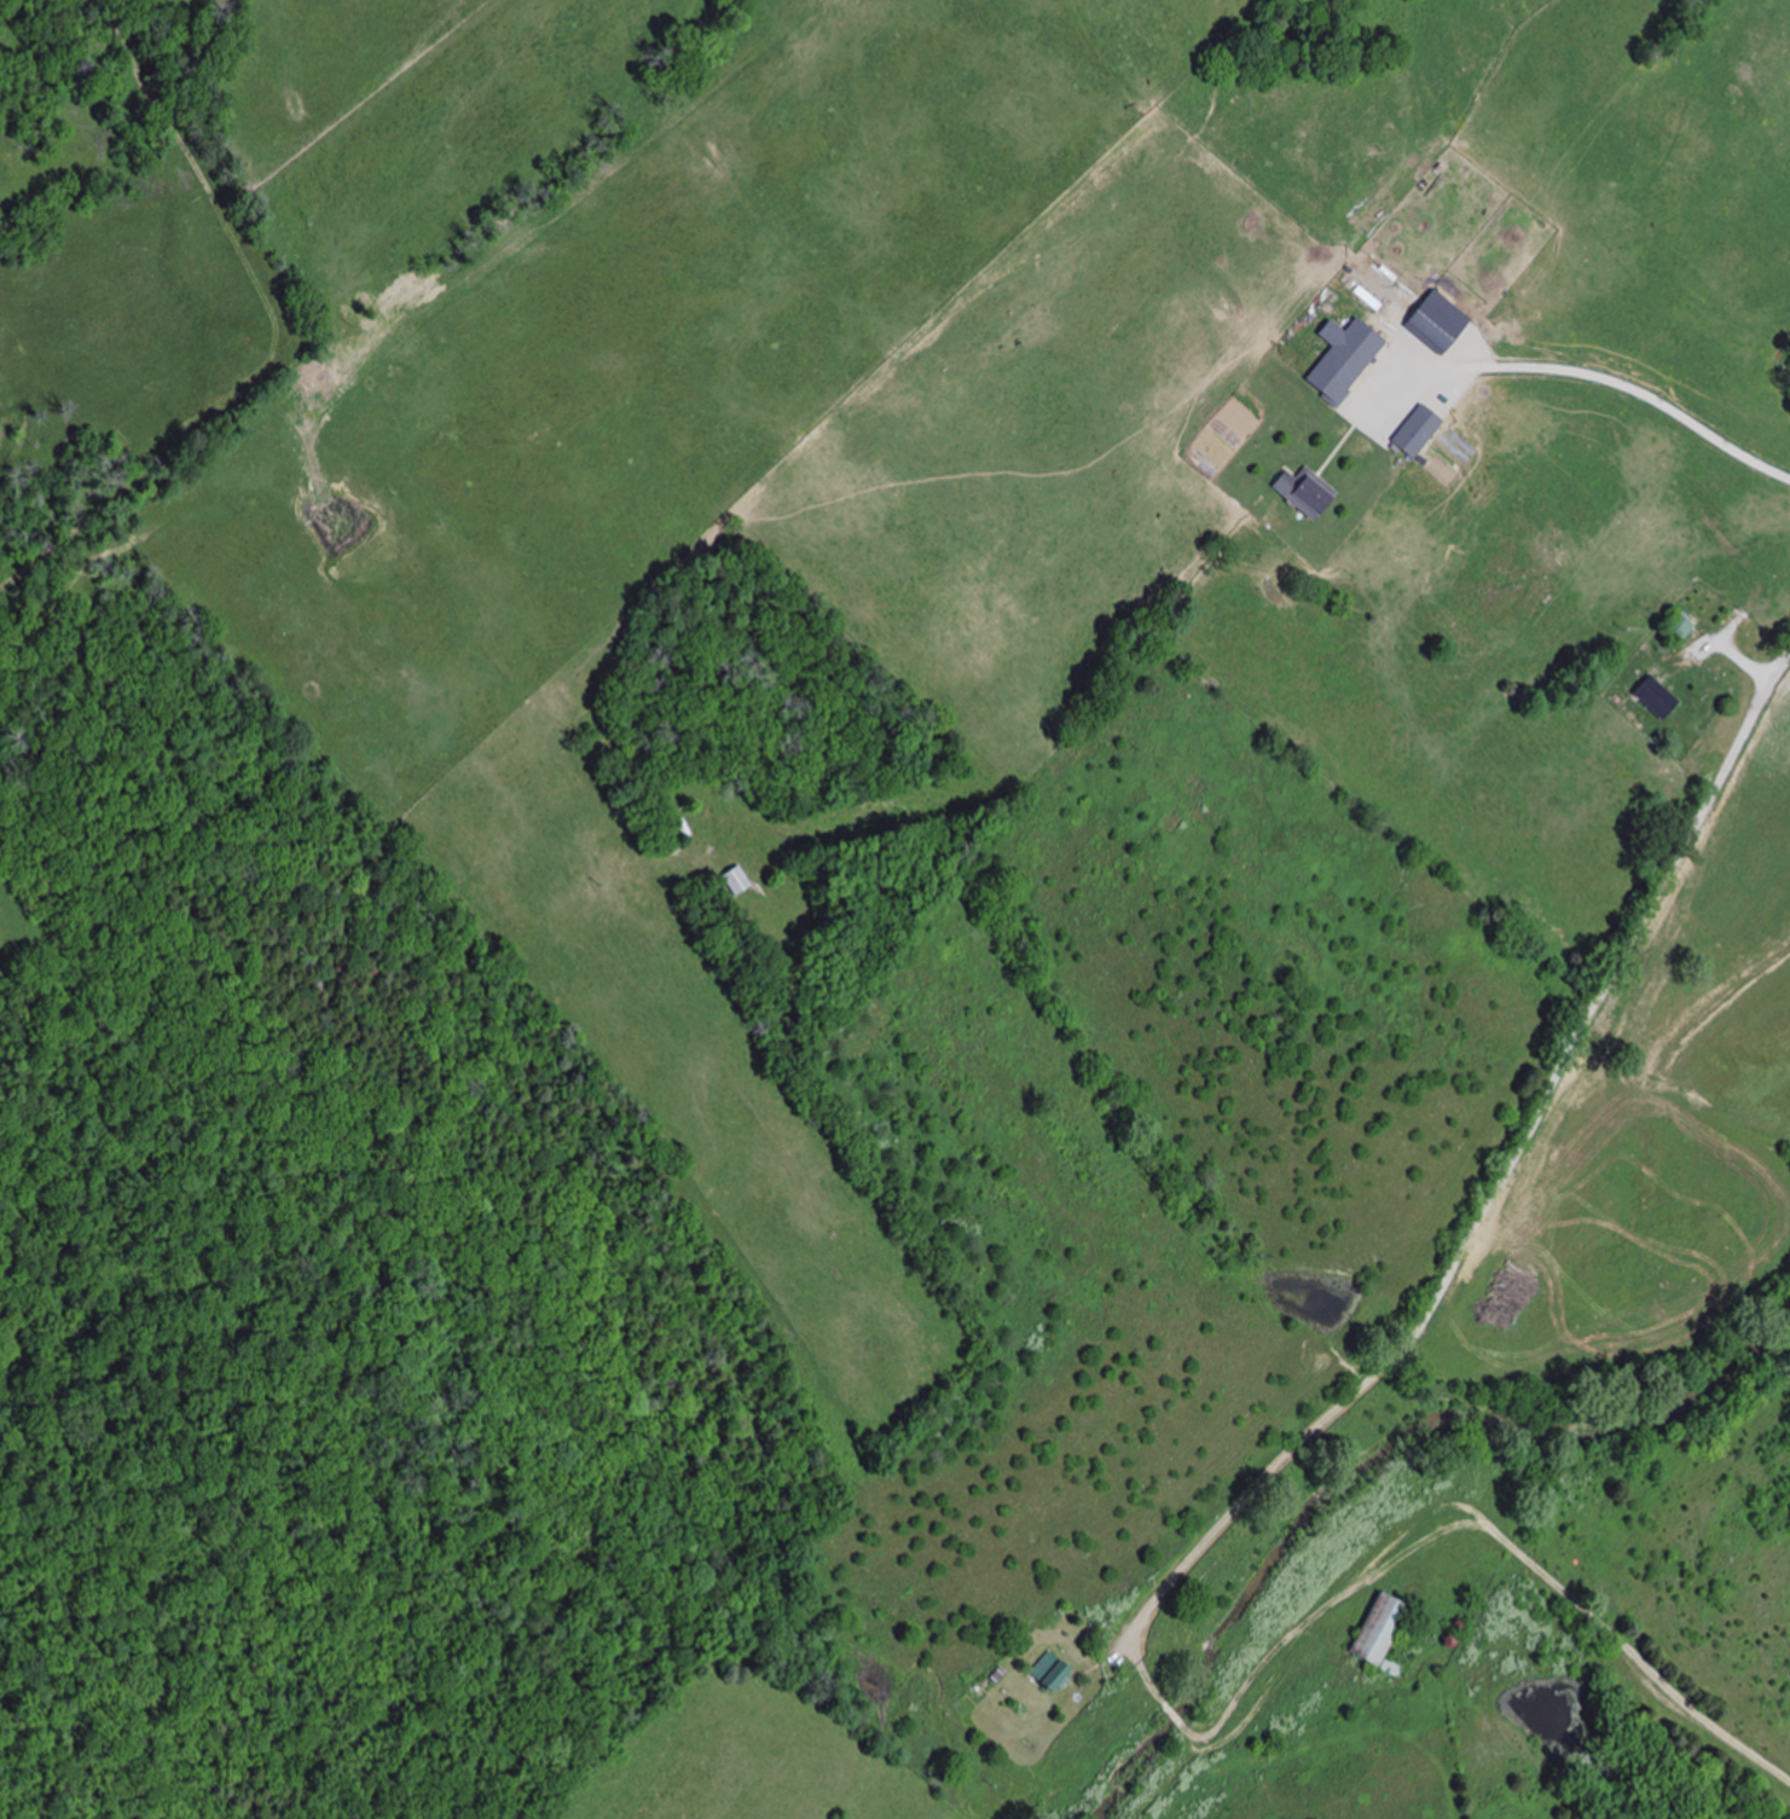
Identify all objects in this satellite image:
building: (1435, 323)
building: (1340, 360)
building: (331, 377)
building: (1413, 433)
building: (1300, 493)
building: (1678, 630)
building: (1650, 699)
road: (1512, 1168)
road: (1313, 1627)
road: (1607, 1632)
building: (1379, 1635)
building: (1047, 1674)
road: (1183, 1722)

